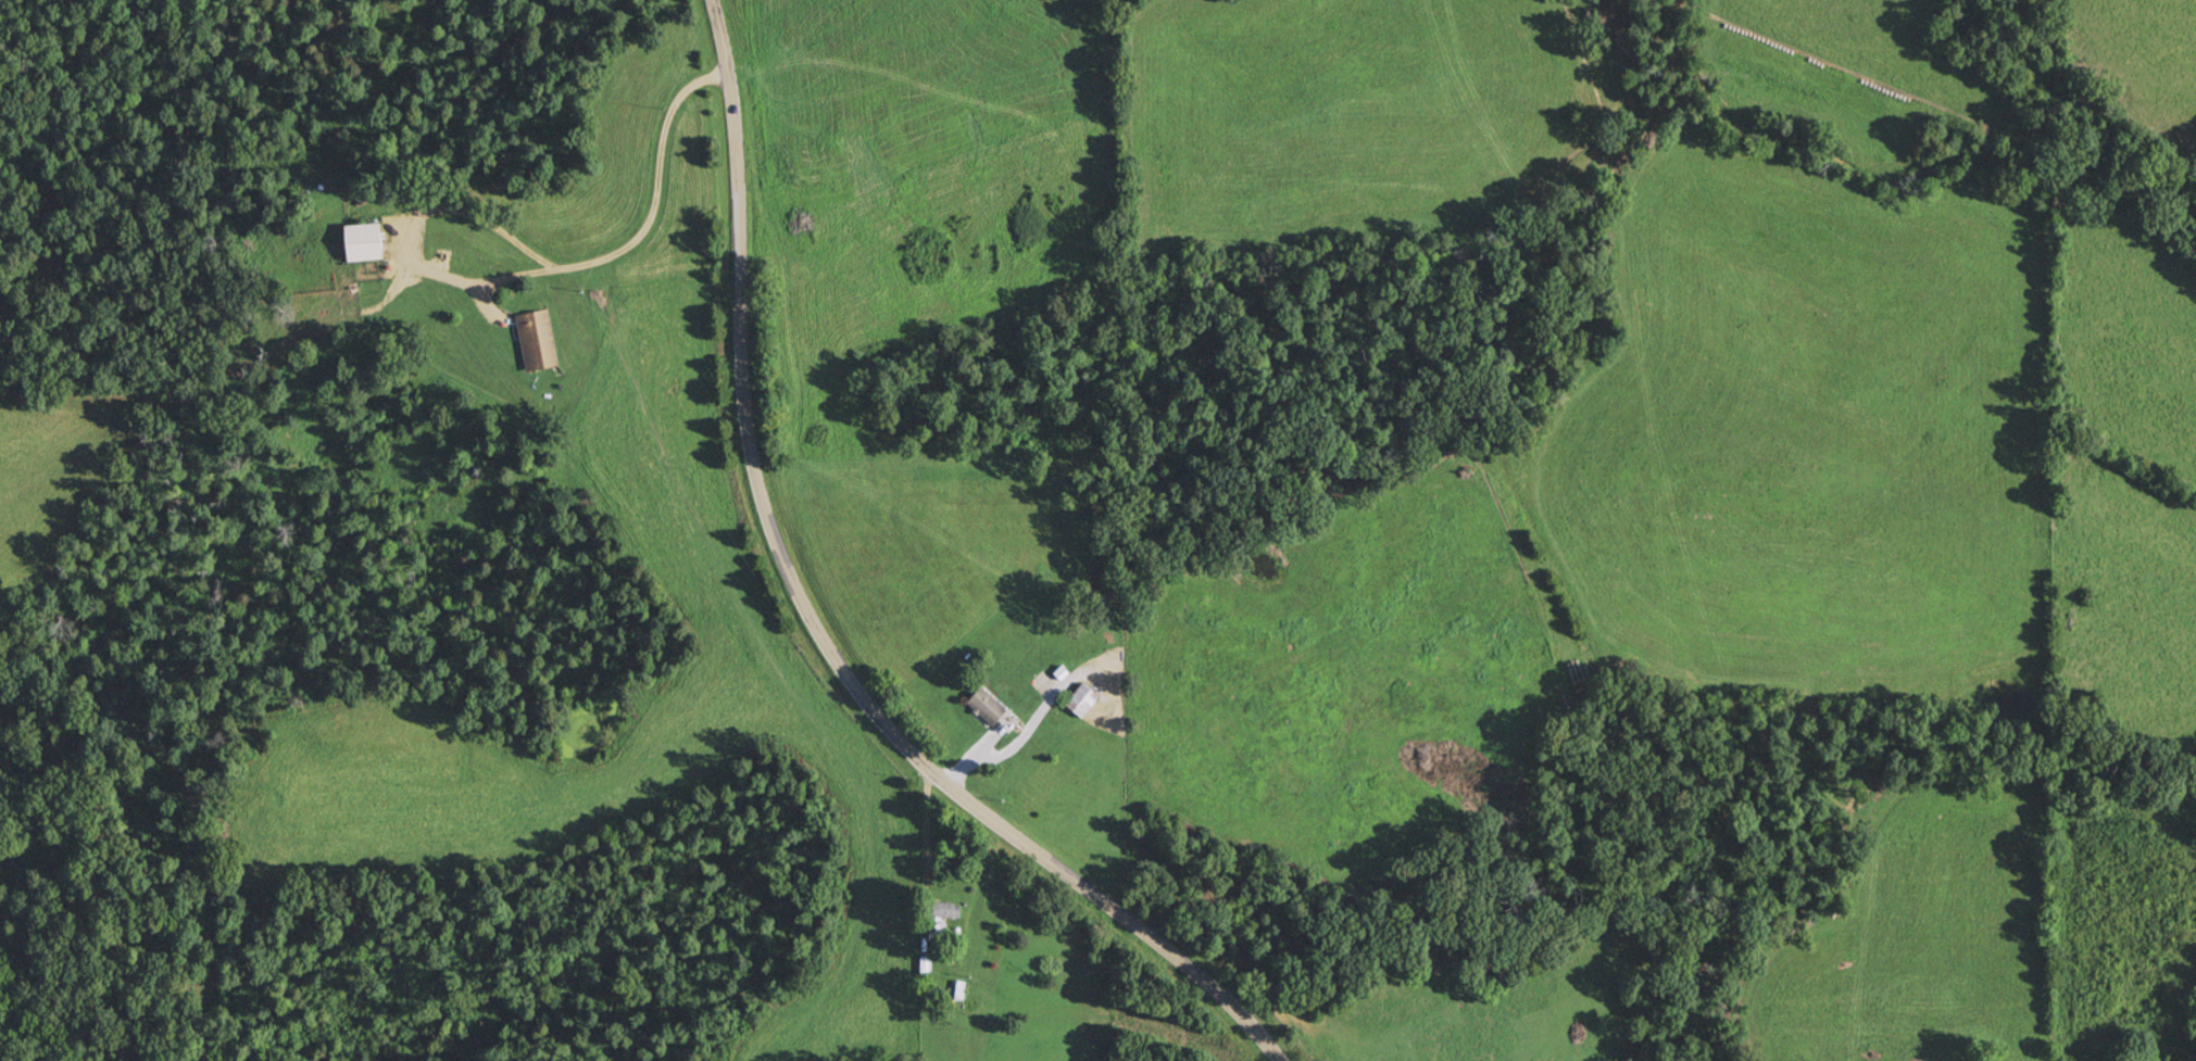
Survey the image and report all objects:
building: (366, 241)
building: (537, 340)
road: (815, 626)
building: (1083, 699)
building: (989, 706)
building: (948, 909)
building: (957, 989)

